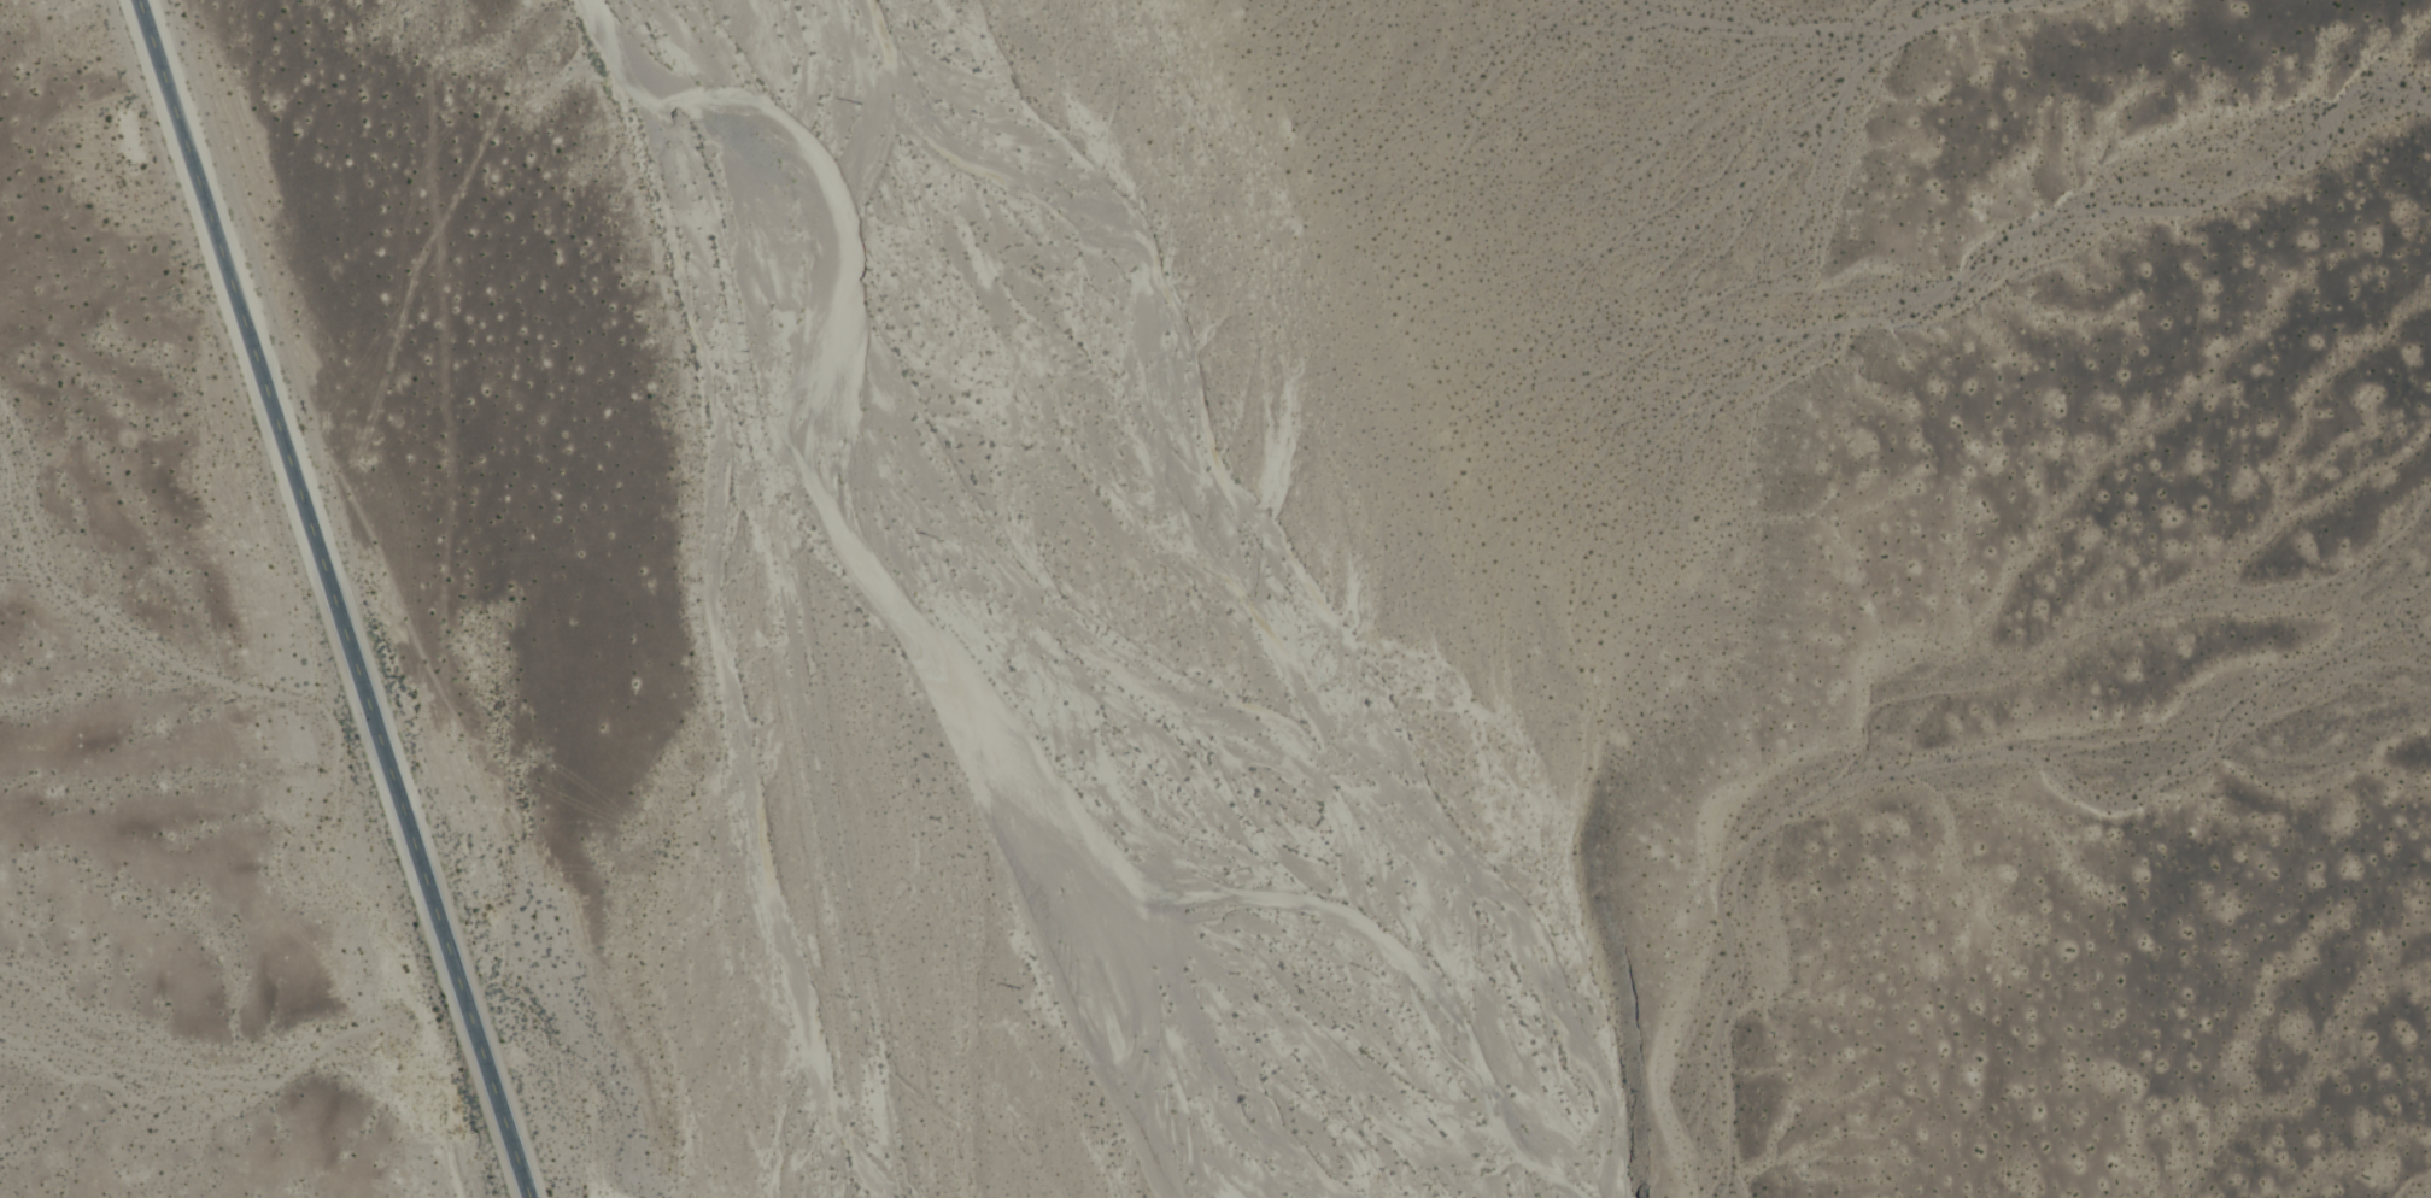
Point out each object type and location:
road: (338, 598)
river: (1039, 606)

